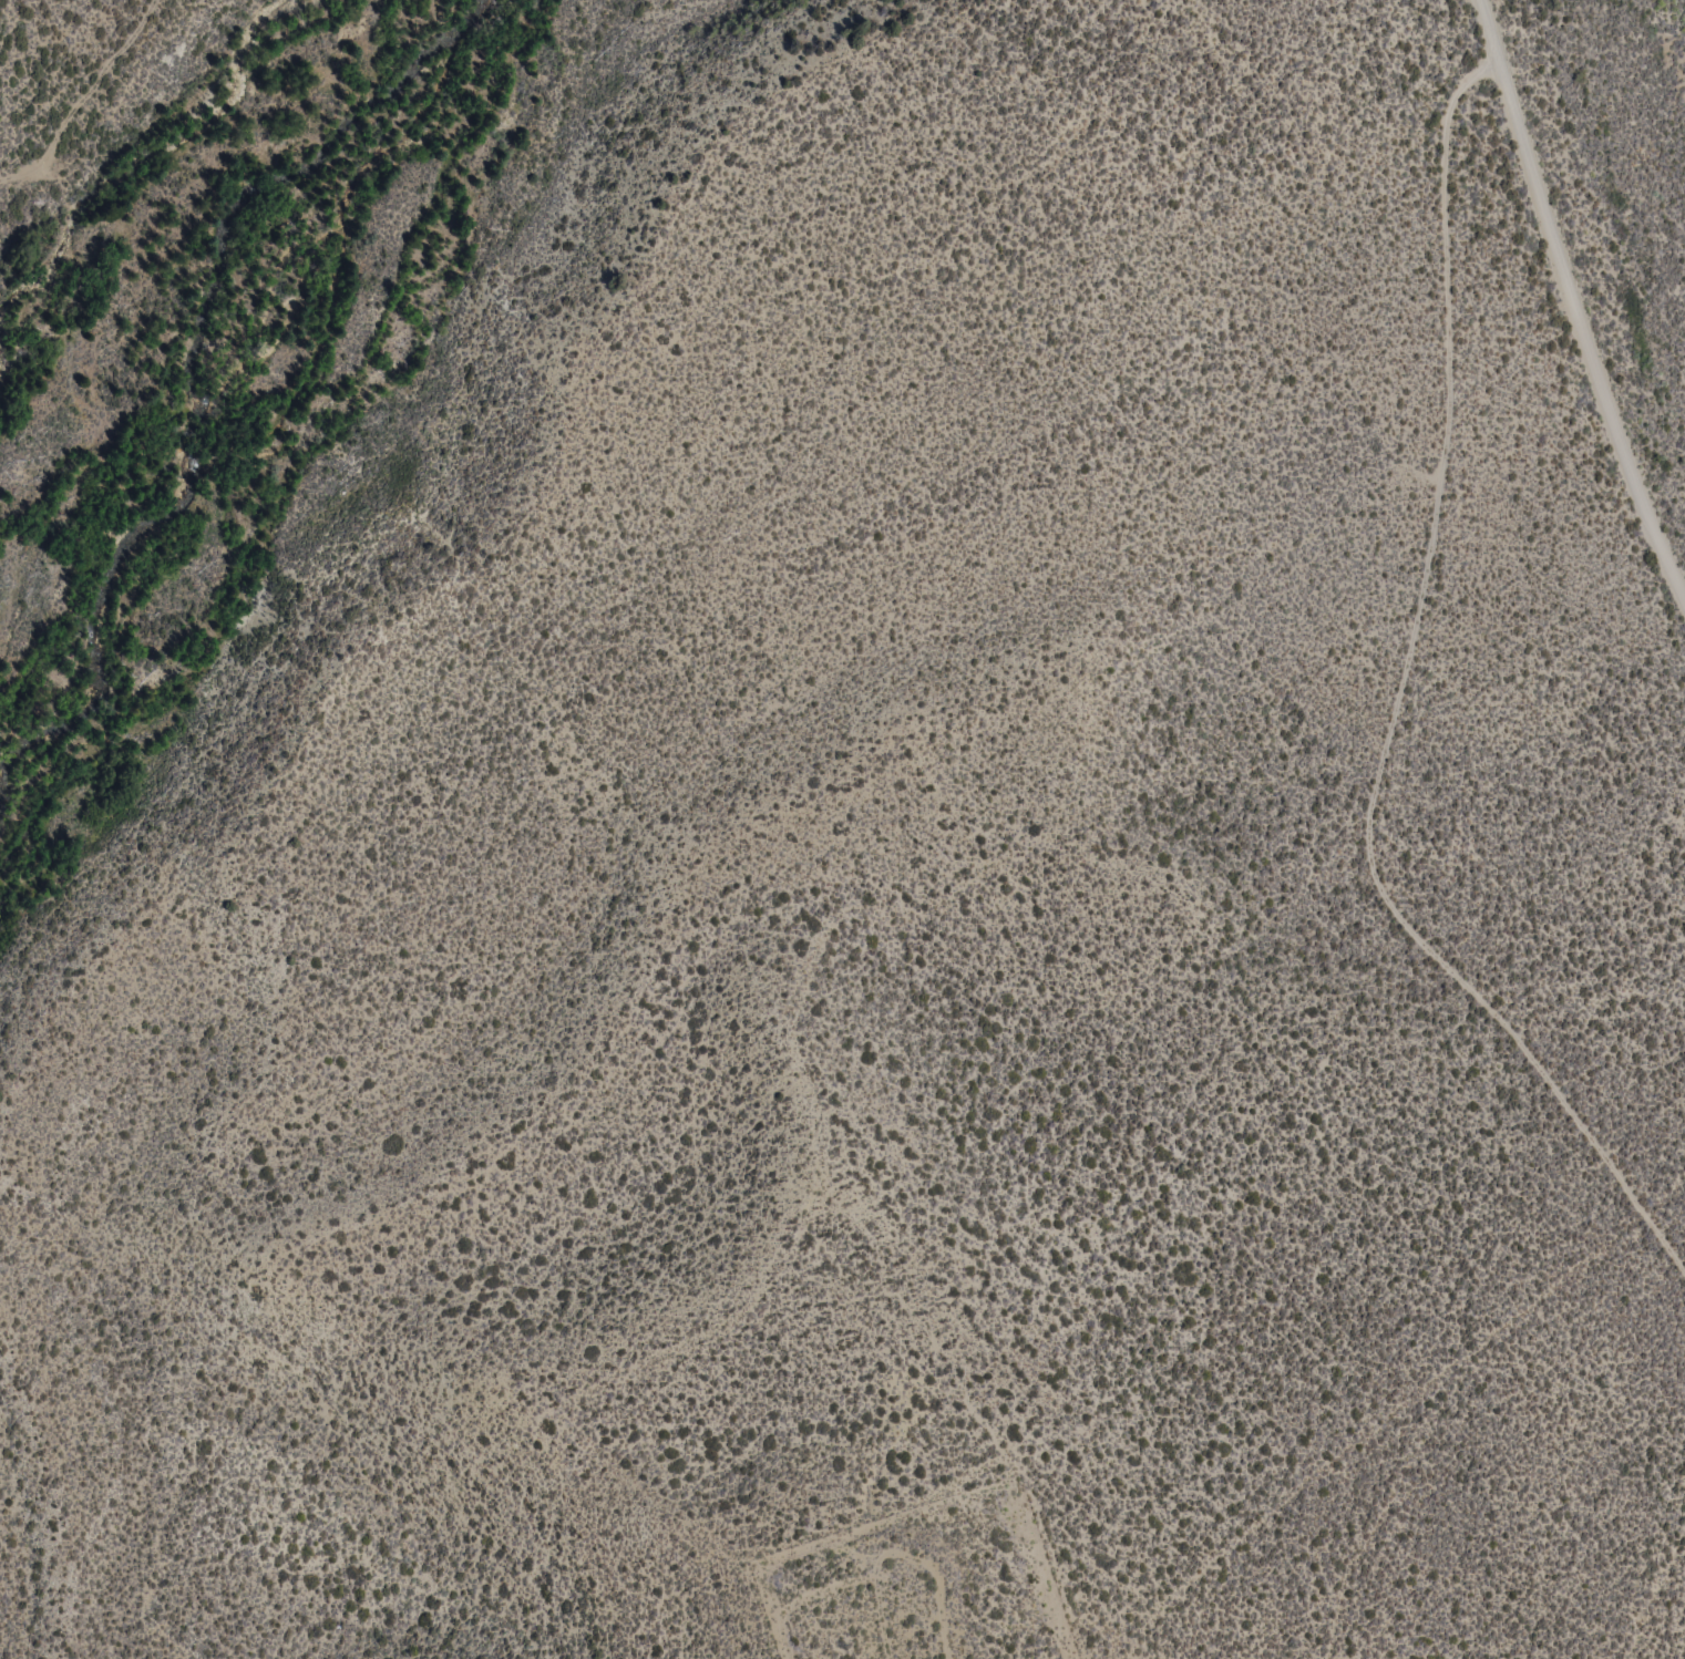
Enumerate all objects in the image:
road: (81, 95)
road: (1571, 310)
road: (1393, 717)

